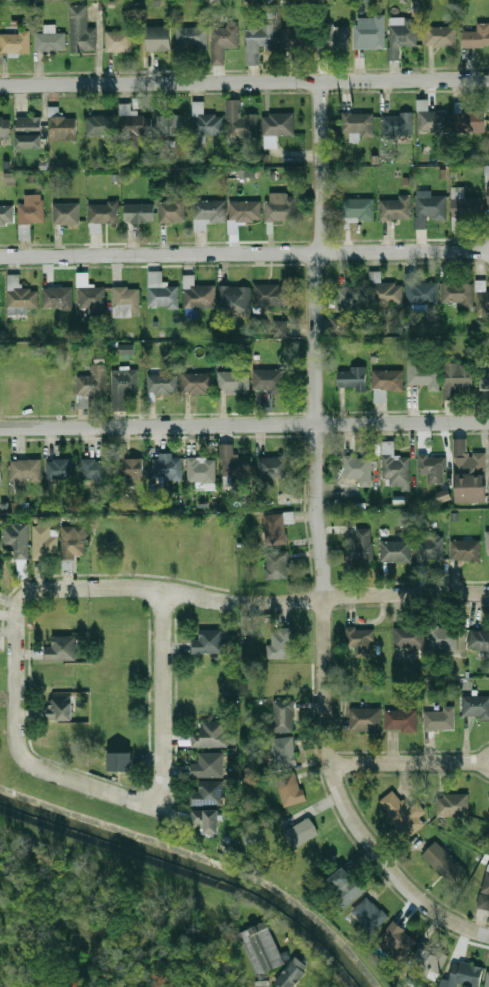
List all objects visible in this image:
building: (271, 11)
building: (81, 30)
building: (370, 34)
building: (401, 35)
building: (441, 36)
building: (477, 36)
building: (192, 37)
building: (334, 37)
building: (259, 38)
building: (156, 39)
building: (297, 39)
building: (50, 40)
building: (119, 41)
building: (223, 42)
building: (15, 43)
road: (244, 80)
building: (488, 102)
building: (432, 119)
building: (205, 121)
building: (240, 121)
building: (473, 121)
building: (357, 122)
building: (397, 123)
building: (137, 124)
building: (170, 124)
building: (278, 124)
building: (101, 125)
building: (64, 126)
building: (5, 131)
building: (29, 132)
building: (247, 173)
building: (488, 196)
building: (280, 206)
building: (429, 207)
building: (395, 208)
building: (465, 208)
building: (359, 209)
building: (32, 210)
building: (173, 210)
building: (245, 211)
building: (139, 212)
building: (67, 213)
building: (208, 213)
building: (6, 214)
building: (103, 214)
road: (244, 253)
building: (420, 290)
building: (384, 291)
building: (162, 292)
building: (457, 293)
building: (198, 294)
building: (270, 294)
building: (20, 296)
building: (234, 297)
building: (59, 298)
building: (92, 298)
building: (351, 298)
building: (483, 299)
building: (126, 301)
building: (280, 328)
building: (126, 349)
building: (424, 372)
building: (352, 377)
building: (484, 378)
building: (267, 379)
building: (457, 379)
building: (233, 381)
building: (92, 383)
building: (163, 383)
building: (198, 383)
building: (386, 383)
building: (123, 388)
road: (244, 423)
building: (231, 458)
building: (395, 466)
building: (168, 467)
building: (274, 467)
building: (434, 467)
building: (61, 469)
building: (94, 469)
building: (202, 469)
building: (131, 470)
building: (1, 471)
building: (25, 472)
building: (356, 474)
building: (470, 474)
building: (443, 495)
building: (276, 527)
building: (488, 540)
building: (73, 542)
building: (45, 543)
building: (17, 544)
road: (317, 545)
building: (360, 546)
building: (430, 548)
building: (396, 550)
building: (466, 550)
building: (277, 564)
road: (231, 602)
building: (409, 637)
building: (443, 637)
building: (478, 639)
building: (361, 640)
building: (208, 641)
building: (281, 644)
building: (61, 648)
road: (160, 671)
building: (475, 706)
building: (59, 707)
building: (282, 716)
building: (439, 718)
building: (366, 719)
building: (402, 720)
building: (211, 735)
building: (60, 736)
building: (285, 751)
building: (121, 762)
road: (409, 763)
building: (208, 765)
road: (58, 775)
building: (290, 789)
building: (209, 793)
building: (453, 805)
building: (404, 814)
building: (208, 820)
building: (302, 832)
river: (203, 859)
building: (445, 864)
building: (486, 886)
building: (346, 887)
building: (370, 914)
building: (398, 939)
building: (262, 948)
building: (430, 960)
building: (292, 972)
building: (463, 975)
building: (487, 979)
building: (420, 986)

